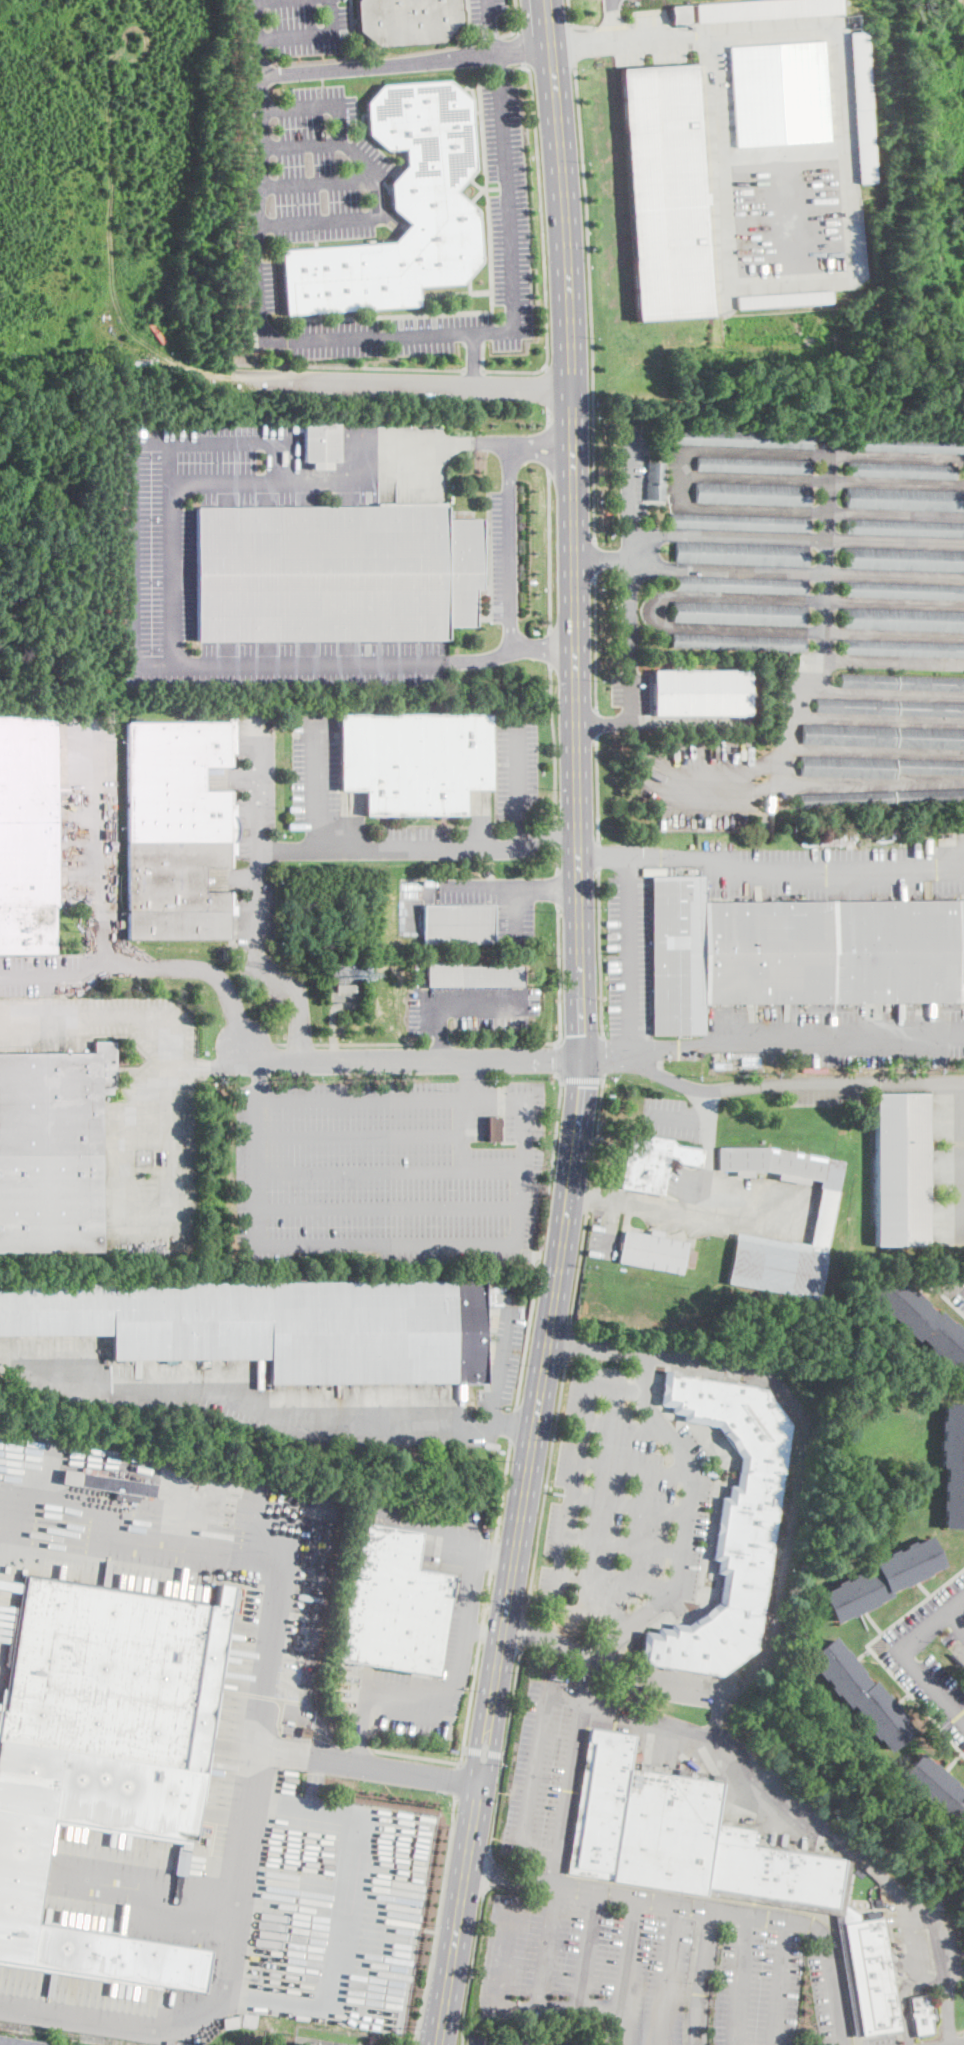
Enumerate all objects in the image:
road: (262, 0)
building: (763, 9)
parking lot: (485, 12)
road: (569, 12)
road: (518, 16)
building: (408, 20)
road: (612, 20)
parking lot: (297, 26)
road: (582, 26)
road: (311, 34)
parking lot: (652, 39)
road: (582, 44)
road: (573, 46)
road: (522, 48)
road: (406, 62)
building: (779, 92)
road: (299, 106)
building: (860, 107)
road: (302, 144)
road: (780, 152)
road: (319, 182)
building: (666, 191)
building: (402, 211)
road: (378, 213)
parking lot: (786, 216)
road: (390, 221)
parking lot: (376, 222)
road: (849, 228)
road: (110, 242)
road: (543, 250)
building: (783, 298)
road: (591, 305)
road: (386, 336)
road: (473, 359)
road: (346, 368)
road: (473, 371)
road: (405, 384)
road: (548, 388)
road: (548, 417)
building: (741, 439)
building: (321, 444)
road: (425, 444)
building: (905, 444)
road: (541, 445)
road: (549, 451)
road: (823, 453)
building: (752, 465)
road: (510, 467)
building: (901, 470)
parking lot: (633, 471)
road: (682, 478)
road: (628, 480)
road: (823, 480)
building: (655, 481)
road: (273, 482)
building: (753, 494)
building: (906, 499)
road: (822, 510)
building: (739, 522)
road: (573, 527)
building: (905, 528)
road: (796, 537)
road: (549, 554)
building: (740, 554)
parking lot: (504, 556)
road: (171, 558)
road: (602, 559)
building: (904, 559)
road: (595, 560)
road: (511, 569)
parking lot: (158, 572)
building: (335, 573)
road: (796, 573)
building: (740, 585)
building: (904, 590)
road: (630, 601)
road: (654, 610)
building: (739, 614)
building: (902, 620)
road: (824, 624)
building: (738, 643)
road: (596, 644)
building: (903, 648)
road: (544, 649)
road: (551, 650)
road: (133, 657)
road: (893, 663)
building: (902, 683)
parking lot: (631, 689)
building: (700, 693)
road: (883, 693)
road: (630, 697)
building: (890, 708)
road: (878, 718)
road: (602, 723)
road: (597, 724)
building: (883, 737)
road: (554, 744)
road: (873, 752)
building: (415, 761)
building: (875, 767)
parking lot: (518, 769)
parking lot: (314, 770)
parking lot: (703, 782)
road: (872, 782)
road: (683, 784)
road: (315, 785)
road: (597, 791)
building: (881, 798)
parking lot: (89, 816)
parking lot: (256, 826)
building: (177, 830)
road: (548, 832)
building: (27, 834)
road: (257, 834)
road: (557, 835)
building: (830, 841)
parking lot: (418, 842)
road: (450, 847)
road: (107, 851)
road: (599, 857)
road: (654, 859)
road: (557, 861)
parking lot: (837, 871)
road: (845, 872)
road: (546, 888)
road: (558, 888)
road: (473, 889)
parking lot: (494, 902)
road: (513, 910)
building: (457, 924)
building: (797, 953)
road: (600, 954)
parking lot: (629, 954)
road: (630, 955)
road: (53, 968)
road: (201, 968)
parking lot: (49, 973)
road: (559, 974)
building: (471, 975)
building: (345, 988)
road: (297, 997)
road: (462, 1003)
parking lot: (473, 1009)
road: (99, 1019)
road: (334, 1025)
road: (830, 1033)
parking lot: (841, 1034)
road: (582, 1037)
road: (504, 1043)
road: (281, 1044)
road: (300, 1044)
road: (373, 1044)
road: (441, 1044)
road: (438, 1047)
road: (640, 1051)
traffic signals: (582, 1056)
road: (603, 1058)
road: (411, 1059)
road: (559, 1060)
building: (750, 1061)
building: (720, 1066)
road: (209, 1067)
road: (259, 1079)
road: (472, 1079)
road: (582, 1079)
road: (917, 1081)
road: (826, 1082)
parking lot: (827, 1087)
road: (702, 1088)
road: (460, 1100)
parking lot: (134, 1113)
parking lot: (669, 1117)
road: (676, 1117)
road: (707, 1128)
building: (493, 1129)
road: (464, 1133)
road: (596, 1134)
road: (358, 1135)
building: (52, 1149)
building: (148, 1158)
building: (141, 1159)
building: (652, 1162)
road: (388, 1169)
building: (901, 1170)
parking lot: (387, 1171)
parking lot: (689, 1184)
road: (705, 1191)
road: (745, 1196)
road: (587, 1200)
road: (635, 1204)
road: (385, 1208)
building: (823, 1209)
road: (135, 1228)
road: (610, 1229)
parking lot: (603, 1236)
road: (542, 1241)
road: (311, 1243)
building: (654, 1252)
road: (579, 1267)
parking lot: (955, 1291)
road: (946, 1298)
building: (922, 1322)
building: (273, 1326)
road: (568, 1341)
parking lot: (504, 1358)
road: (502, 1365)
road: (543, 1370)
road: (645, 1375)
parking lot: (247, 1396)
road: (269, 1417)
road: (513, 1423)
road: (626, 1426)
road: (1, 1455)
building: (953, 1464)
road: (636, 1467)
road: (793, 1467)
building: (111, 1485)
road: (545, 1486)
road: (503, 1491)
road: (573, 1497)
road: (630, 1504)
parking lot: (622, 1510)
road: (686, 1514)
road: (191, 1523)
building: (729, 1525)
road: (448, 1526)
road: (624, 1543)
road: (124, 1547)
road: (493, 1557)
road: (494, 1557)
parking lot: (183, 1568)
road: (618, 1580)
building: (882, 1580)
road: (487, 1598)
building: (393, 1605)
road: (595, 1615)
parking lot: (464, 1618)
road: (956, 1620)
road: (521, 1630)
road: (482, 1632)
road: (482, 1633)
road: (544, 1638)
road: (875, 1653)
road: (906, 1654)
parking lot: (931, 1655)
road: (457, 1669)
building: (556, 1676)
road: (589, 1676)
building: (861, 1694)
road: (723, 1714)
road: (361, 1728)
road: (476, 1731)
building: (304, 1732)
road: (497, 1735)
road: (464, 1747)
road: (259, 1749)
road: (361, 1749)
building: (104, 1751)
road: (484, 1751)
road: (504, 1751)
parking lot: (548, 1769)
road: (393, 1770)
road: (538, 1770)
road: (574, 1775)
road: (458, 1781)
road: (775, 1788)
building: (935, 1789)
building: (683, 1835)
road: (236, 1867)
road: (559, 1871)
road: (487, 1873)
road: (146, 1891)
road: (652, 1899)
parking lot: (346, 1913)
parking lot: (167, 1914)
road: (458, 1914)
road: (439, 1921)
road: (506, 1932)
road: (907, 1936)
parking lot: (923, 1937)
road: (548, 1948)
road: (588, 1952)
road: (941, 1952)
road: (472, 1969)
road: (626, 1970)
parking lot: (645, 1971)
road: (666, 1973)
building: (871, 1975)
road: (703, 1976)
road: (738, 1979)
building: (848, 1980)
road: (783, 1983)
parking lot: (830, 1995)
road: (904, 1995)
road: (834, 1996)
road: (558, 2011)
road: (947, 2012)
building: (921, 2015)
parking lot: (482, 2036)
road: (478, 2038)
building: (527, 2040)
parking lot: (562, 2040)
parking lot: (884, 2040)
building: (18, 2042)
road: (562, 2042)
road: (963, 2042)
building: (303, 2044)
building: (308, 2044)

